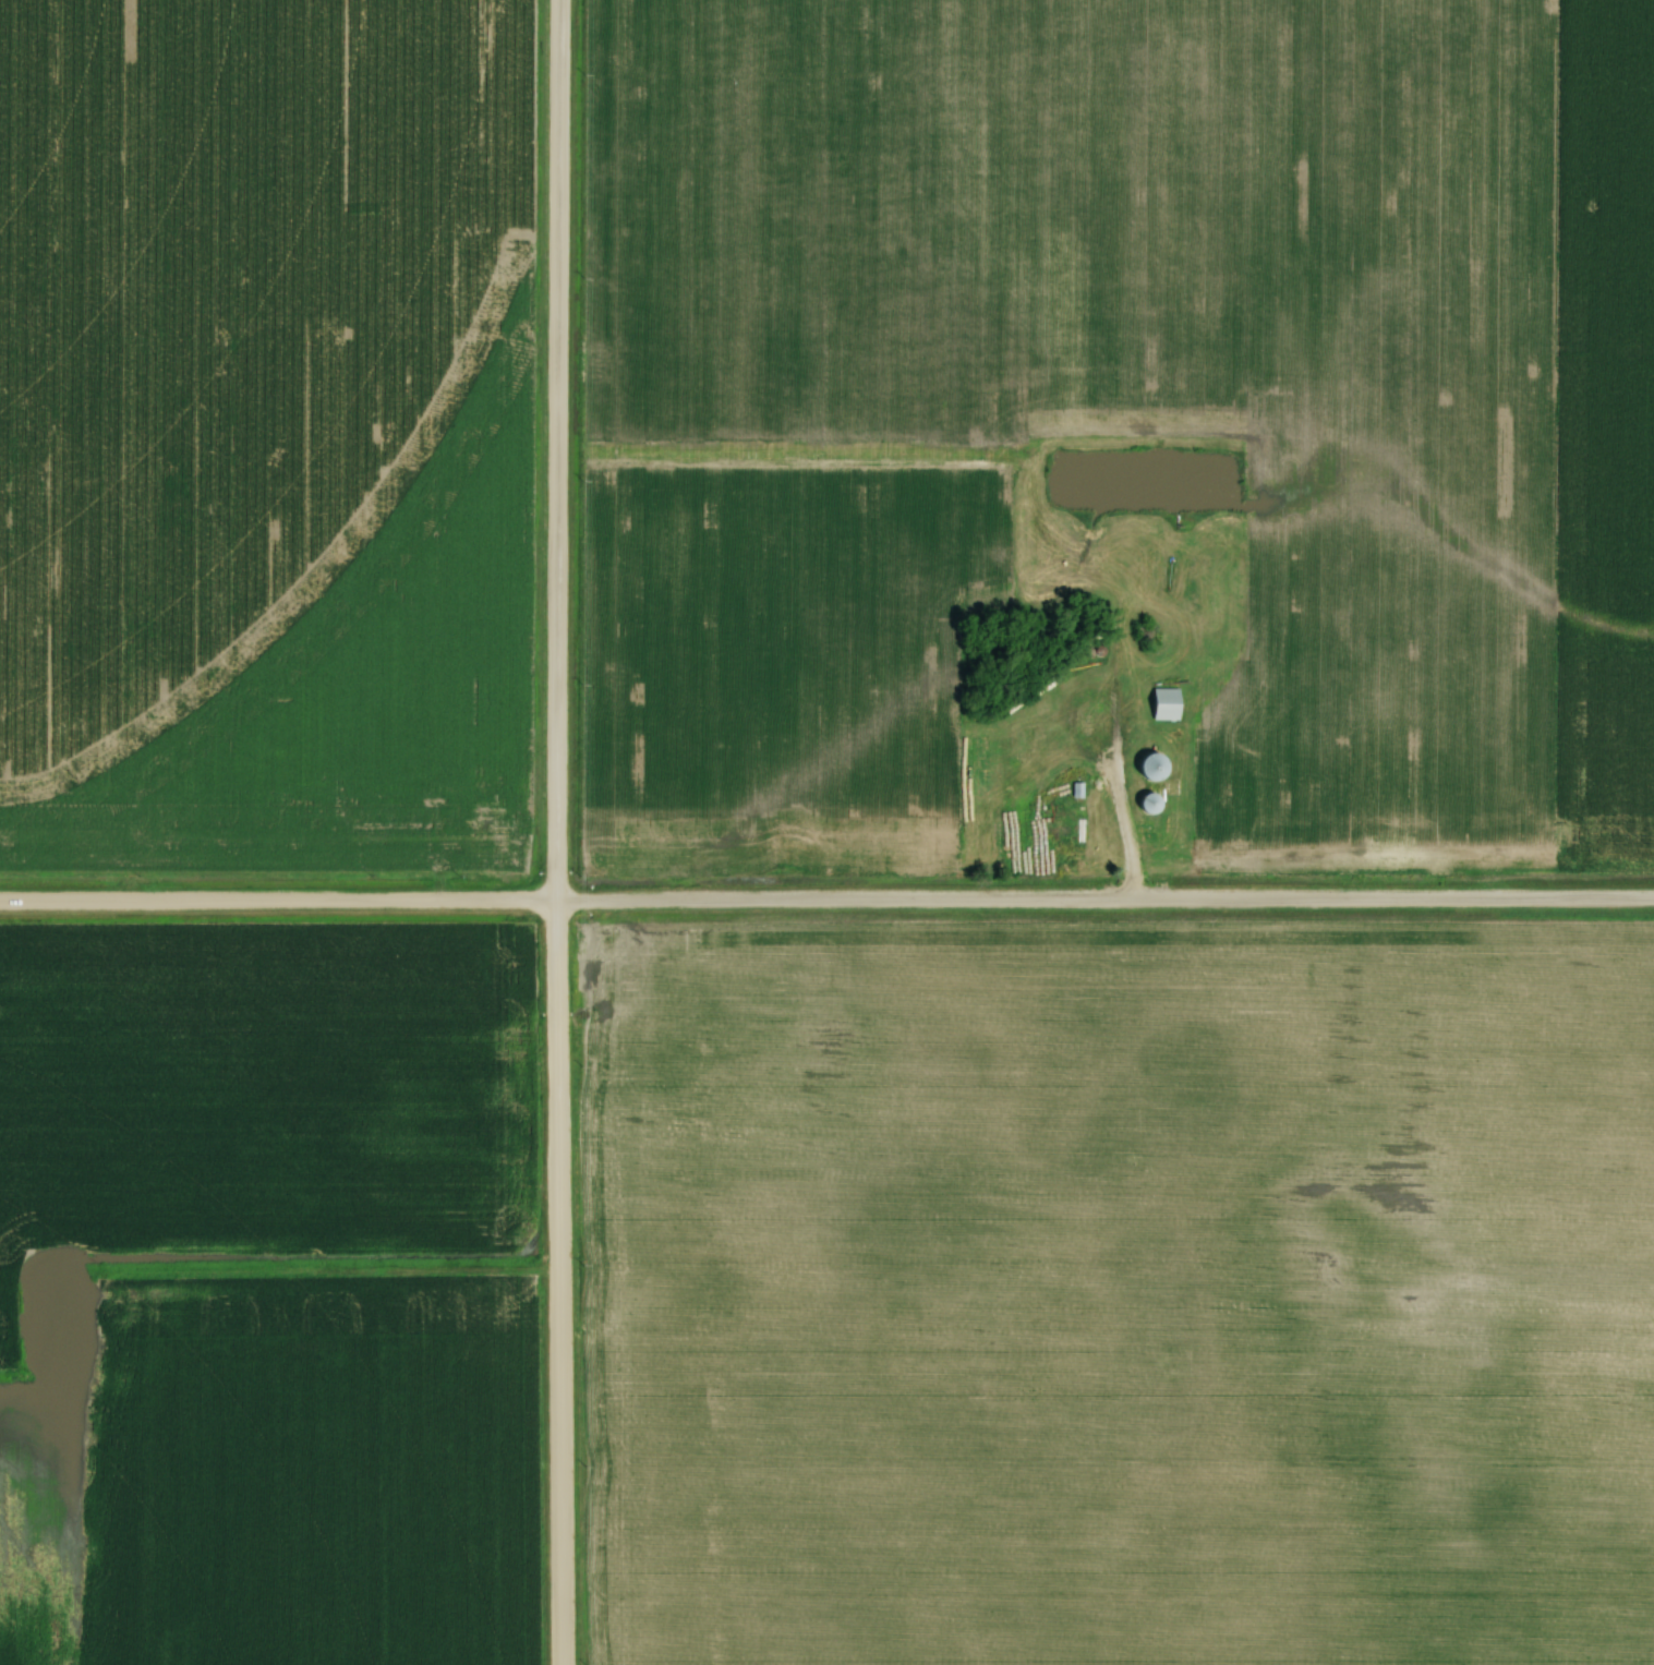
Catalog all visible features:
building: (1171, 703)
building: (1159, 765)
building: (1156, 804)
road: (555, 832)
road: (826, 905)

